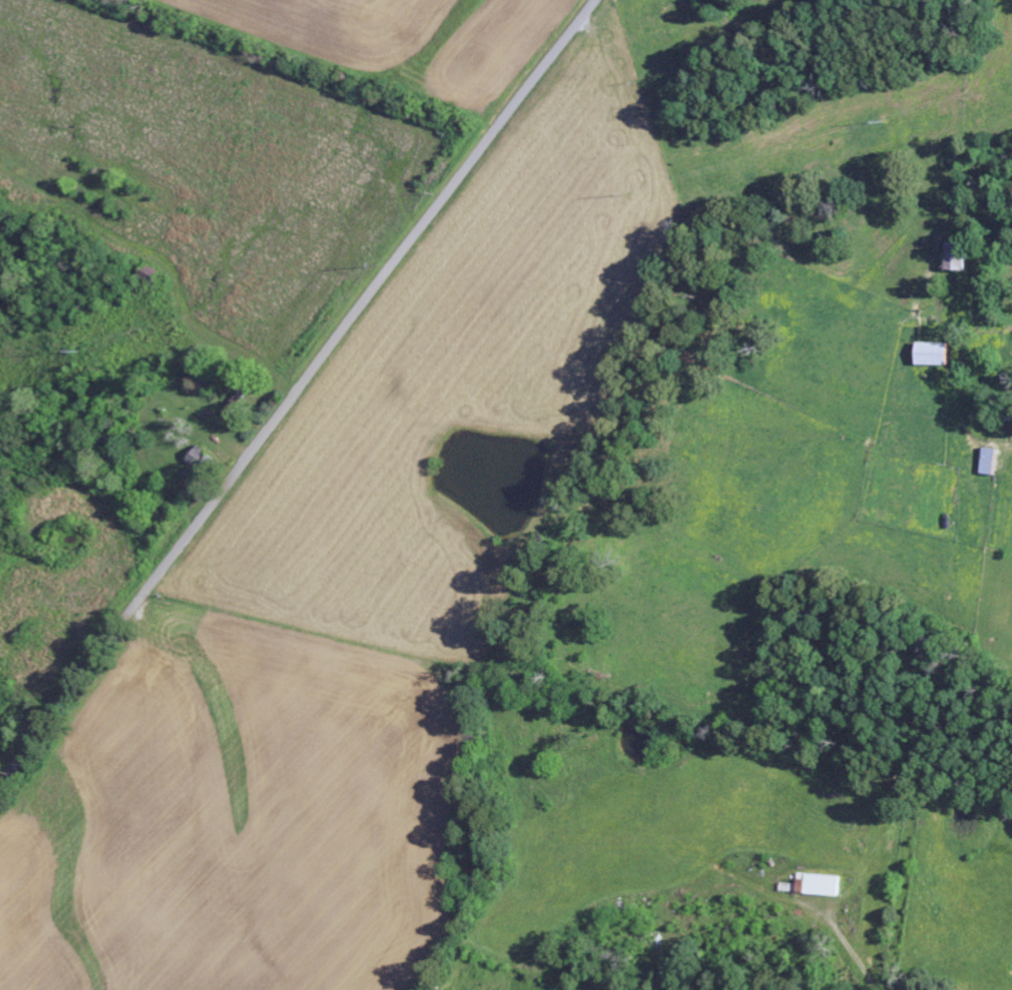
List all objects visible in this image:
building: (959, 256)
building: (933, 354)
road: (294, 391)
building: (200, 458)
building: (818, 885)

